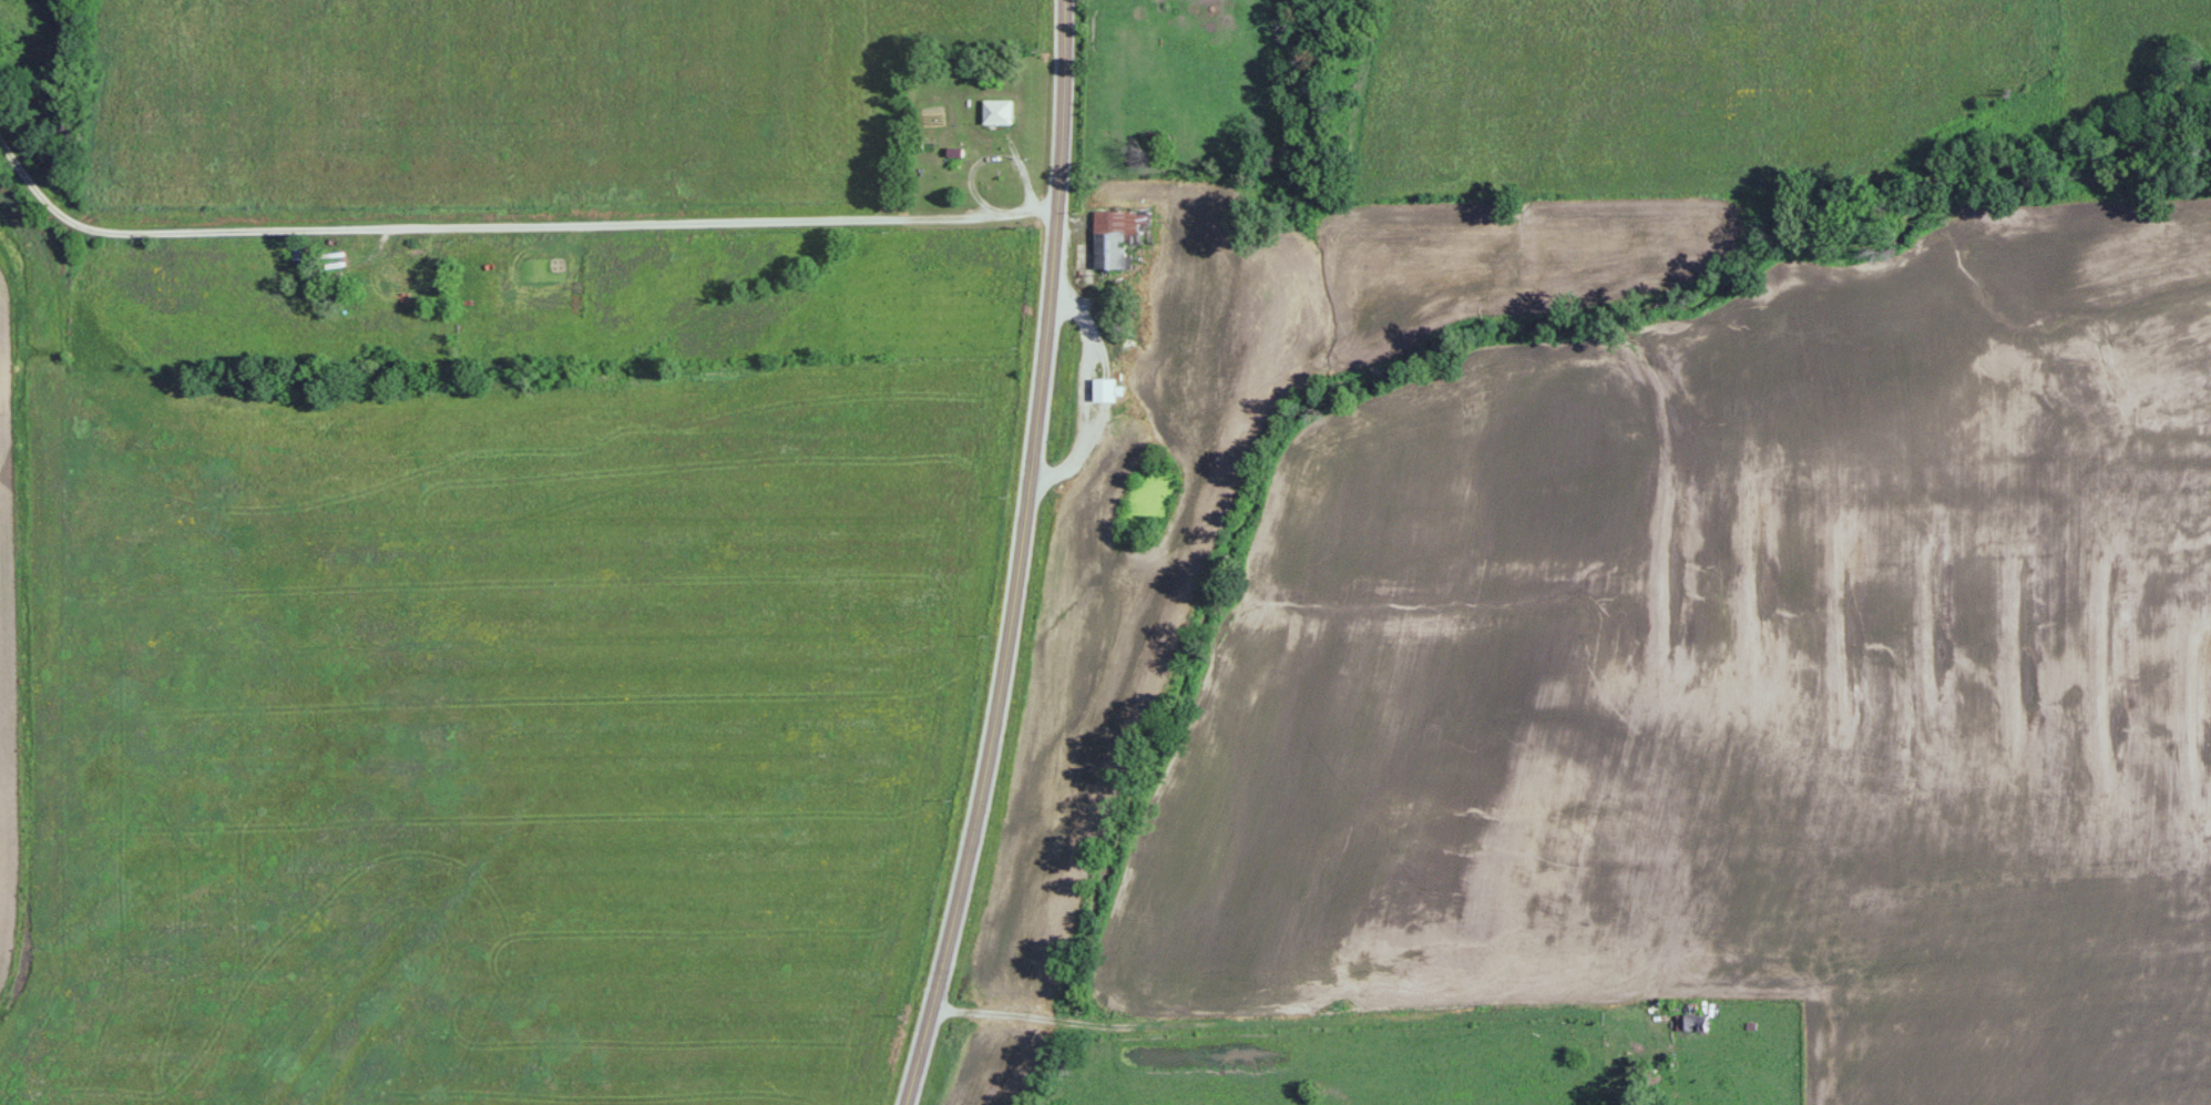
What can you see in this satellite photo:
building: (997, 112)
road: (506, 222)
building: (1118, 236)
road: (1088, 362)
building: (1104, 391)
road: (1020, 557)
crop: (6, 638)
crop: (1723, 646)
road: (1325, 1016)
building: (1691, 1023)
crop: (2007, 1026)

